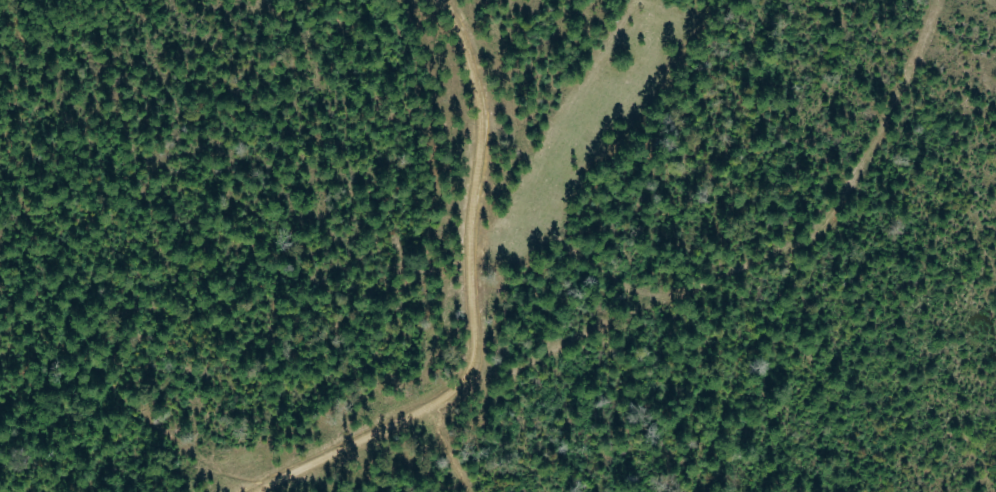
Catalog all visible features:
road: (561, 139)
road: (780, 247)
road: (471, 302)
road: (565, 348)
road: (450, 449)

